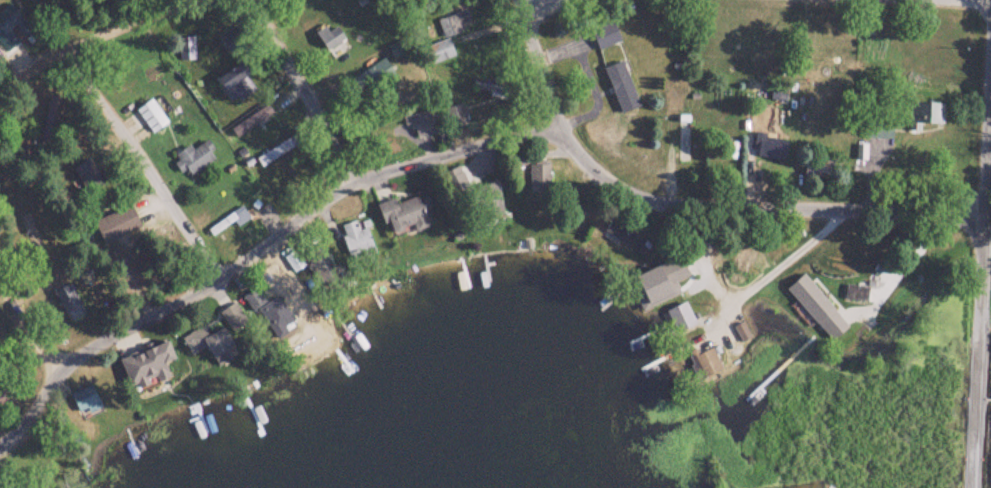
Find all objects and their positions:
road: (56, 22)
building: (447, 33)
building: (234, 40)
road: (537, 49)
road: (300, 79)
building: (236, 83)
building: (621, 88)
road: (501, 113)
building: (930, 114)
building: (455, 116)
building: (150, 117)
building: (251, 121)
building: (427, 124)
building: (682, 139)
road: (123, 140)
building: (770, 148)
building: (278, 151)
building: (193, 159)
building: (817, 171)
building: (538, 178)
building: (404, 217)
road: (362, 220)
building: (230, 221)
building: (118, 225)
building: (620, 233)
building: (356, 238)
road: (978, 251)
road: (907, 261)
building: (294, 263)
road: (749, 287)
building: (61, 299)
building: (254, 300)
building: (810, 300)
building: (231, 316)
building: (682, 321)
road: (17, 324)
building: (841, 332)
building: (219, 343)
building: (148, 363)
building: (706, 363)
road: (17, 379)
building: (85, 400)

